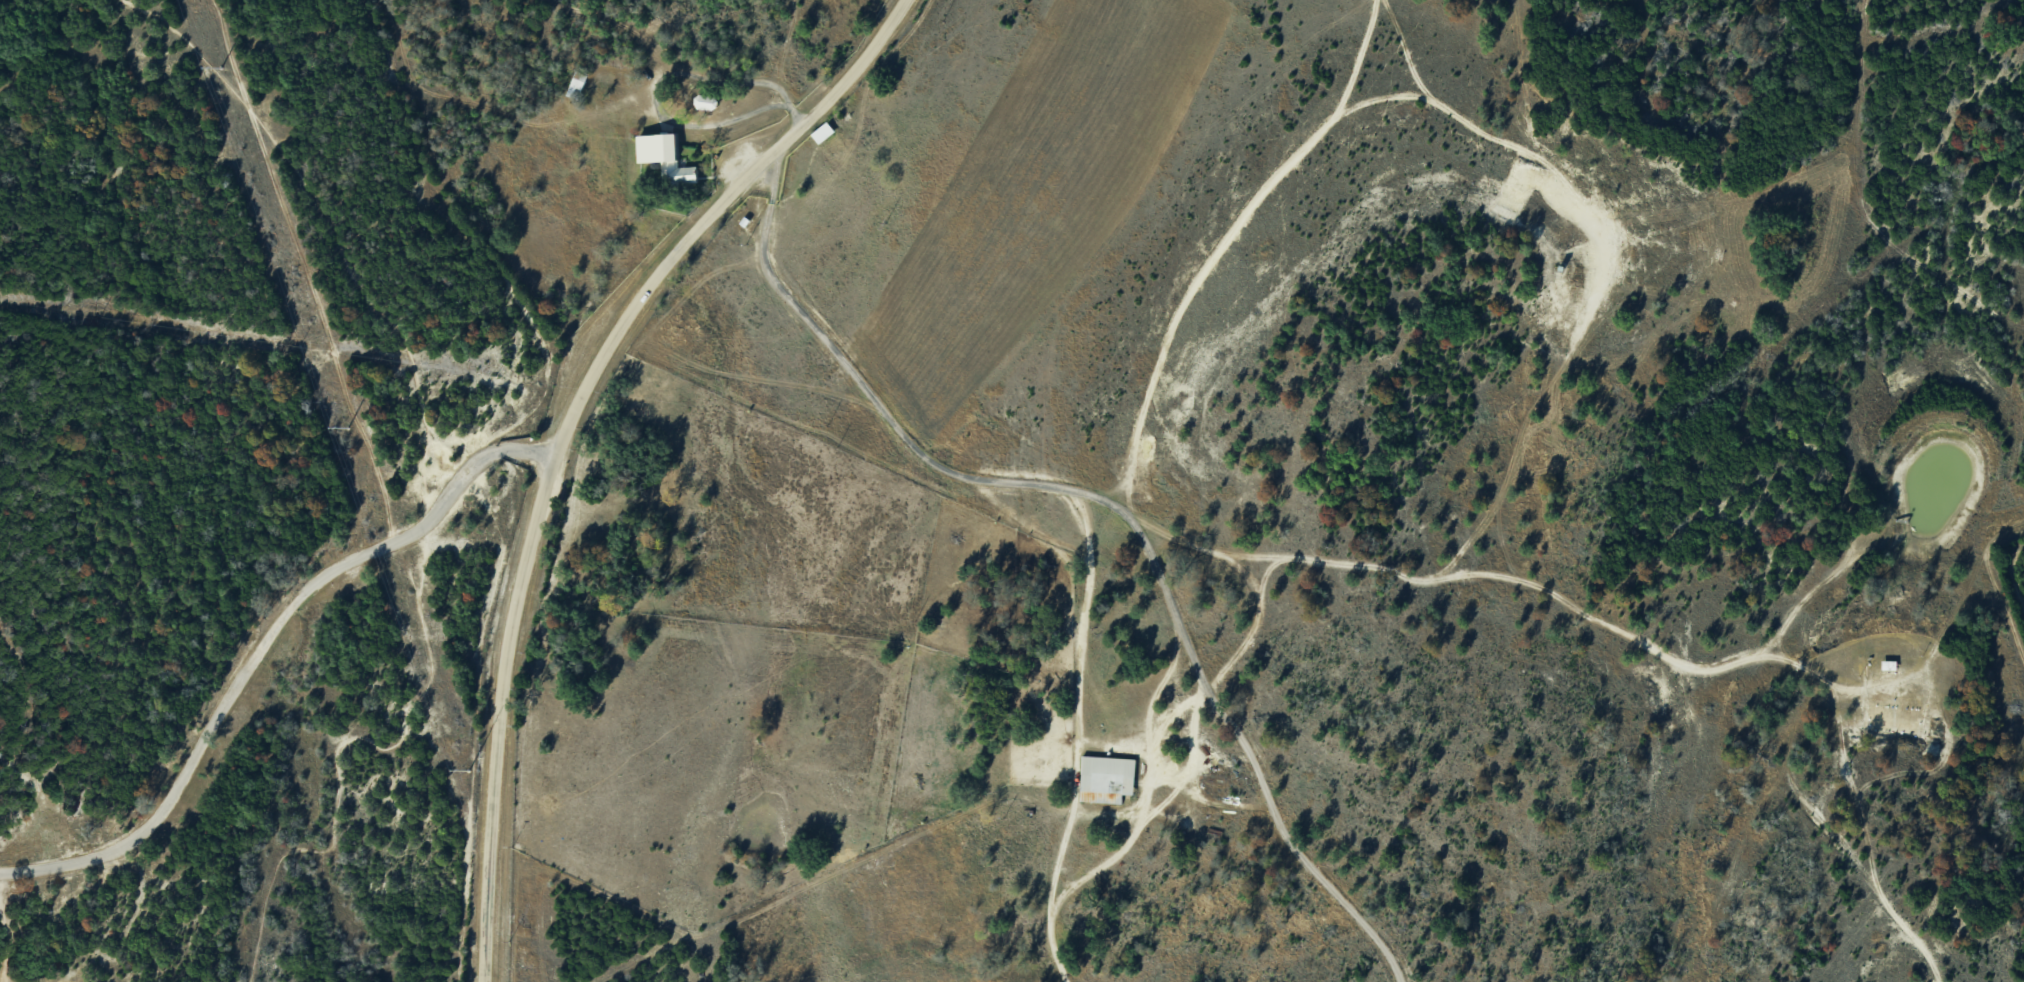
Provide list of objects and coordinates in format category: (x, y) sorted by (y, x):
power tower: (219, 69)
road: (658, 79)
building: (666, 158)
power tower: (346, 429)
road: (565, 434)
road: (262, 642)
power tower: (468, 772)
building: (1107, 779)

